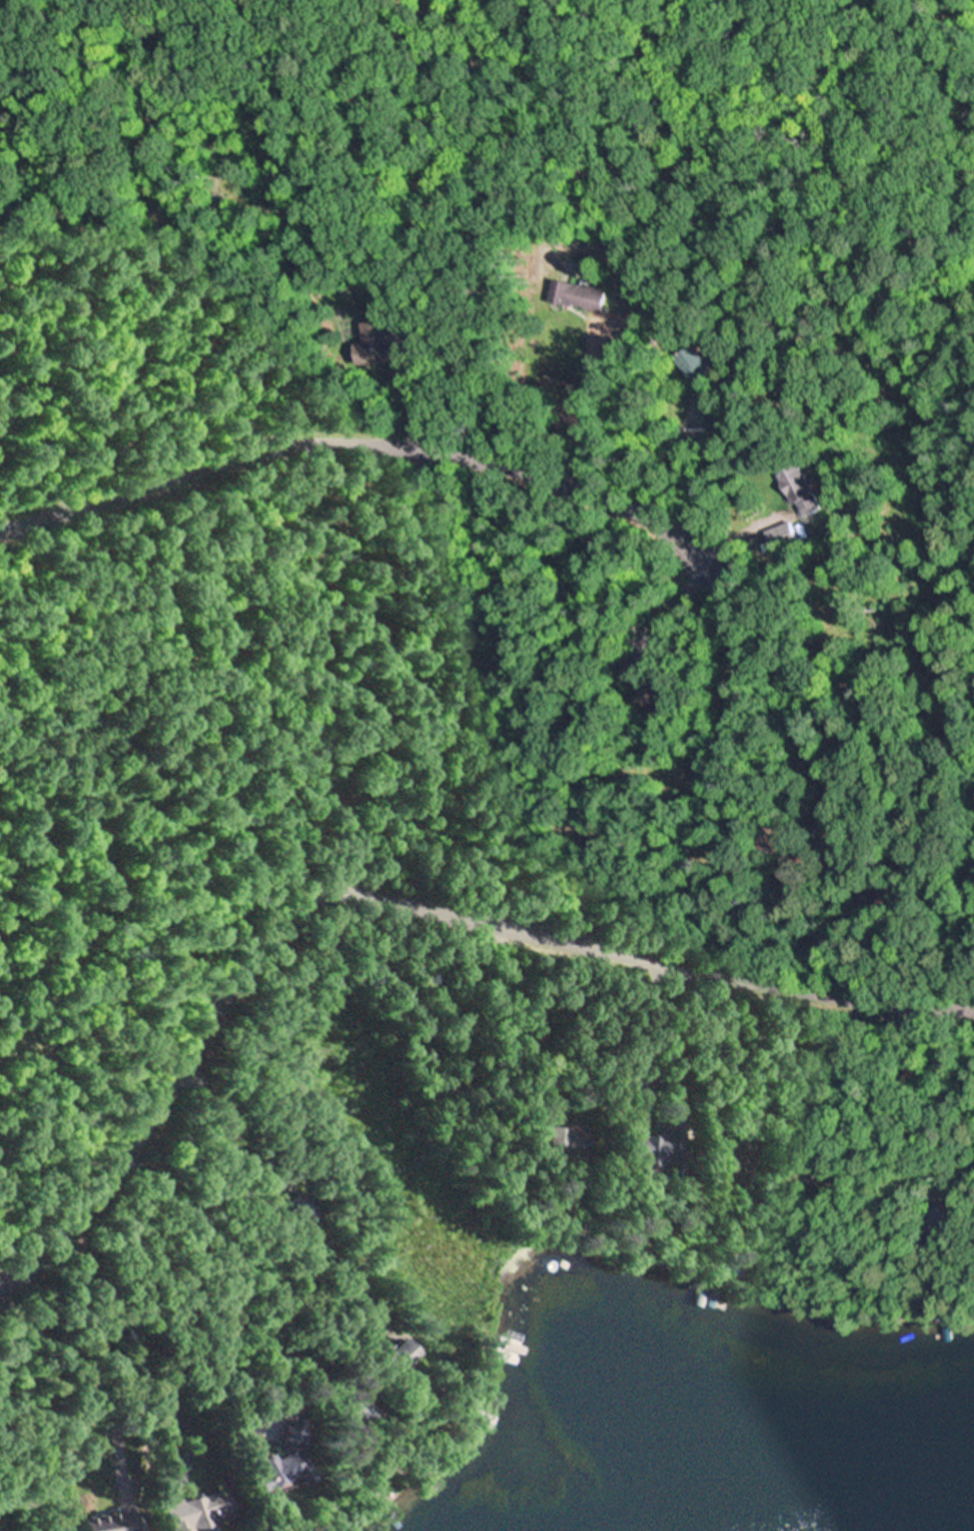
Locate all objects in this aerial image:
building: (132, 18)
building: (204, 196)
building: (580, 297)
building: (395, 338)
building: (699, 364)
building: (723, 415)
road: (367, 445)
building: (803, 490)
building: (788, 533)
building: (646, 685)
building: (781, 763)
building: (827, 820)
building: (799, 862)
building: (897, 893)
road: (389, 905)
building: (632, 1082)
building: (566, 1140)
building: (783, 1144)
building: (655, 1147)
building: (734, 1167)
building: (299, 1209)
building: (938, 1220)
building: (574, 1240)
building: (392, 1364)
building: (1, 1394)
building: (146, 1394)
building: (357, 1411)
building: (287, 1458)
building: (379, 1491)
building: (195, 1512)
building: (109, 1523)

